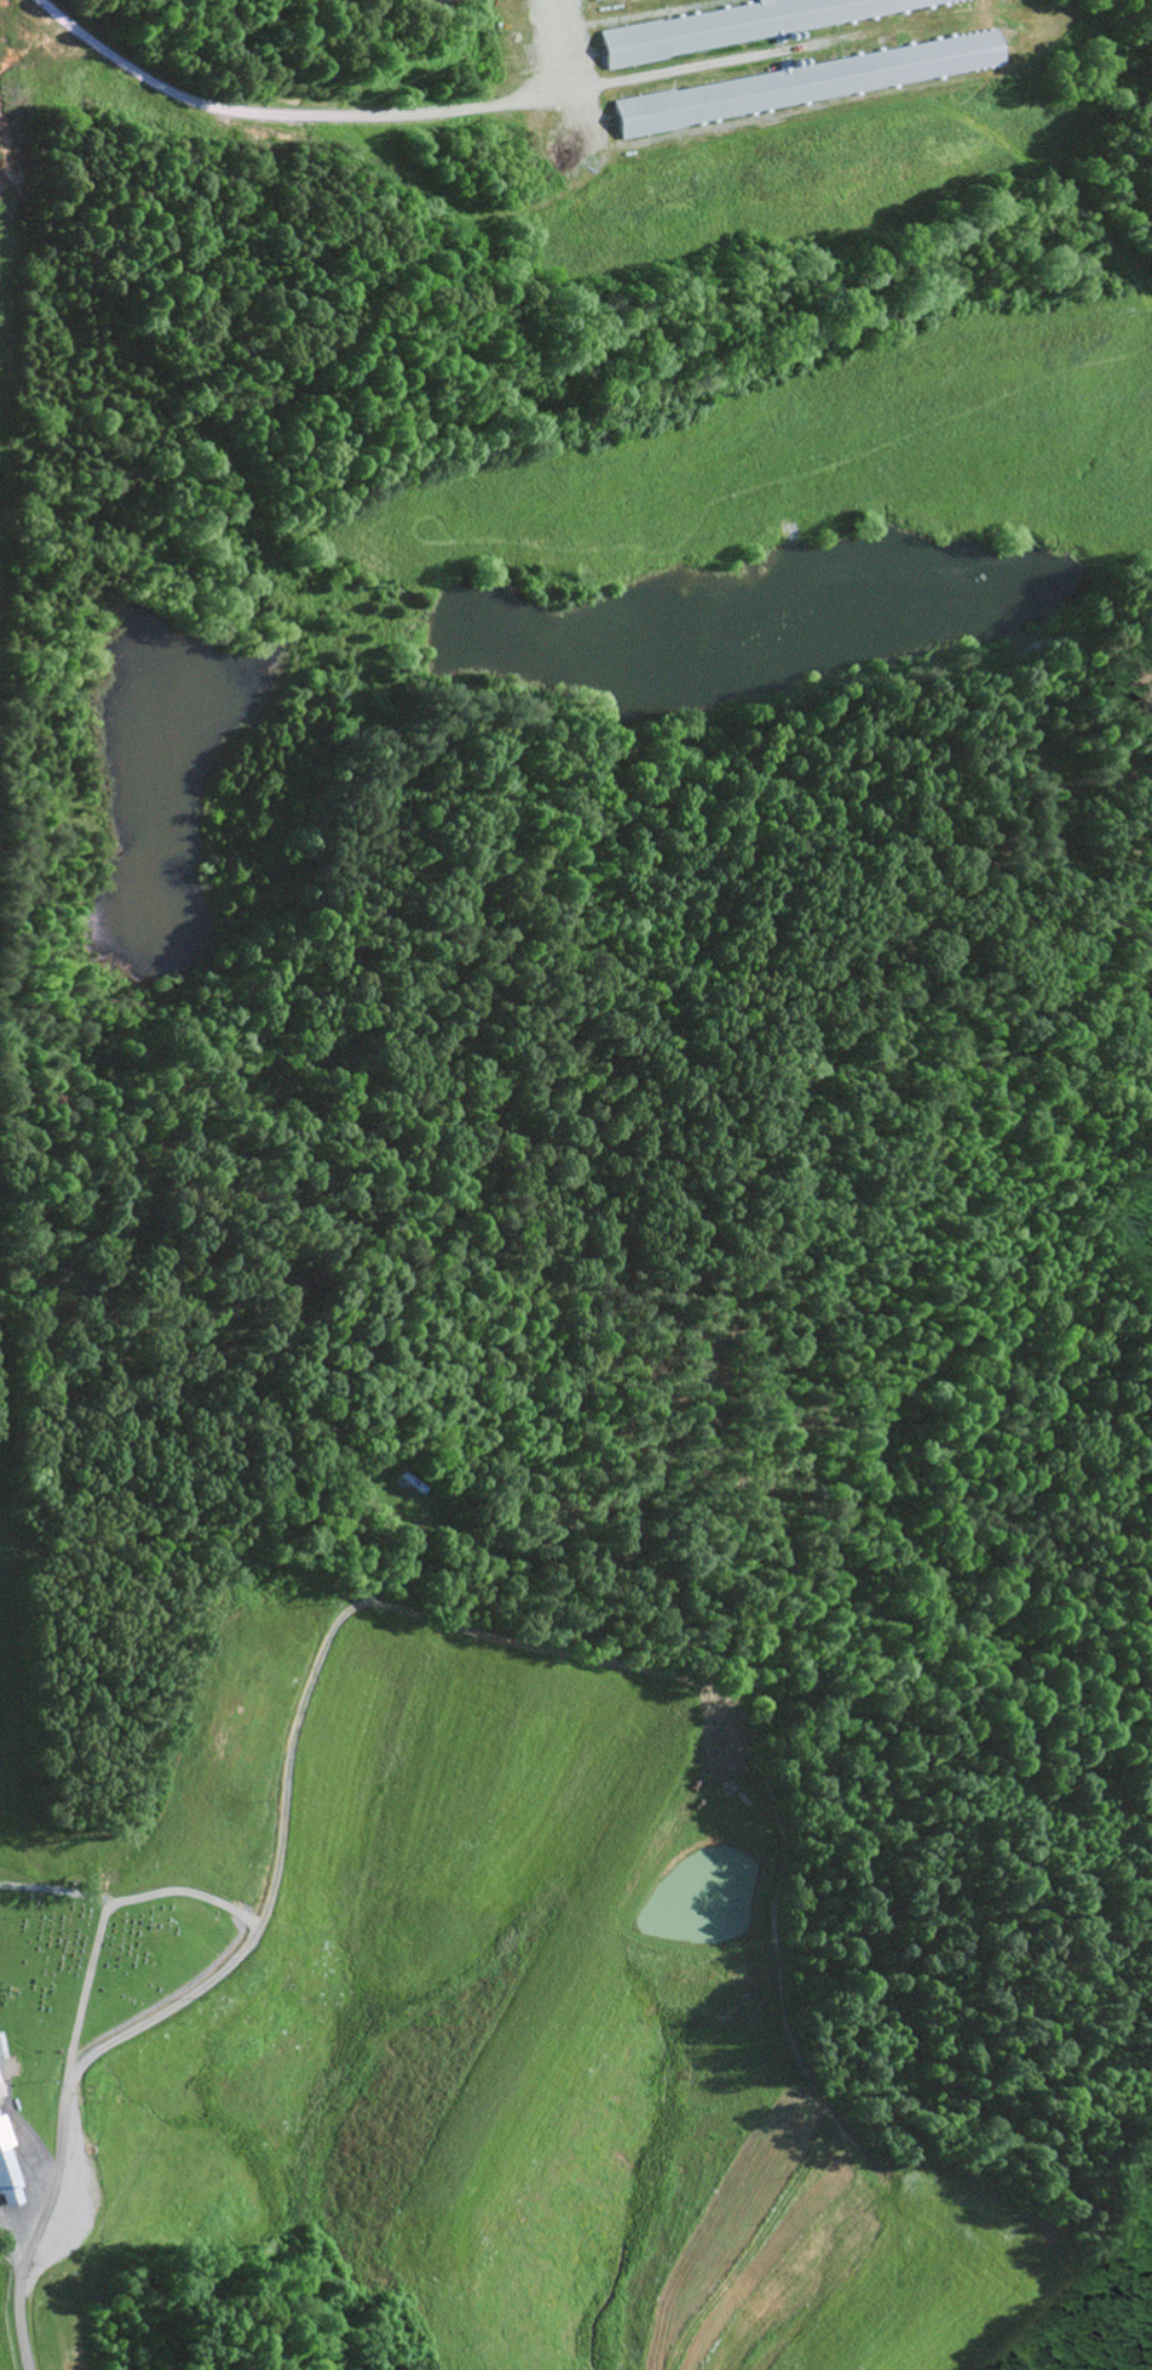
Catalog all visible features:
building: (736, 25)
building: (816, 81)
park: (111, 1936)
road: (227, 1965)
building: (0, 2091)
building: (7, 2170)
road: (18, 2217)

